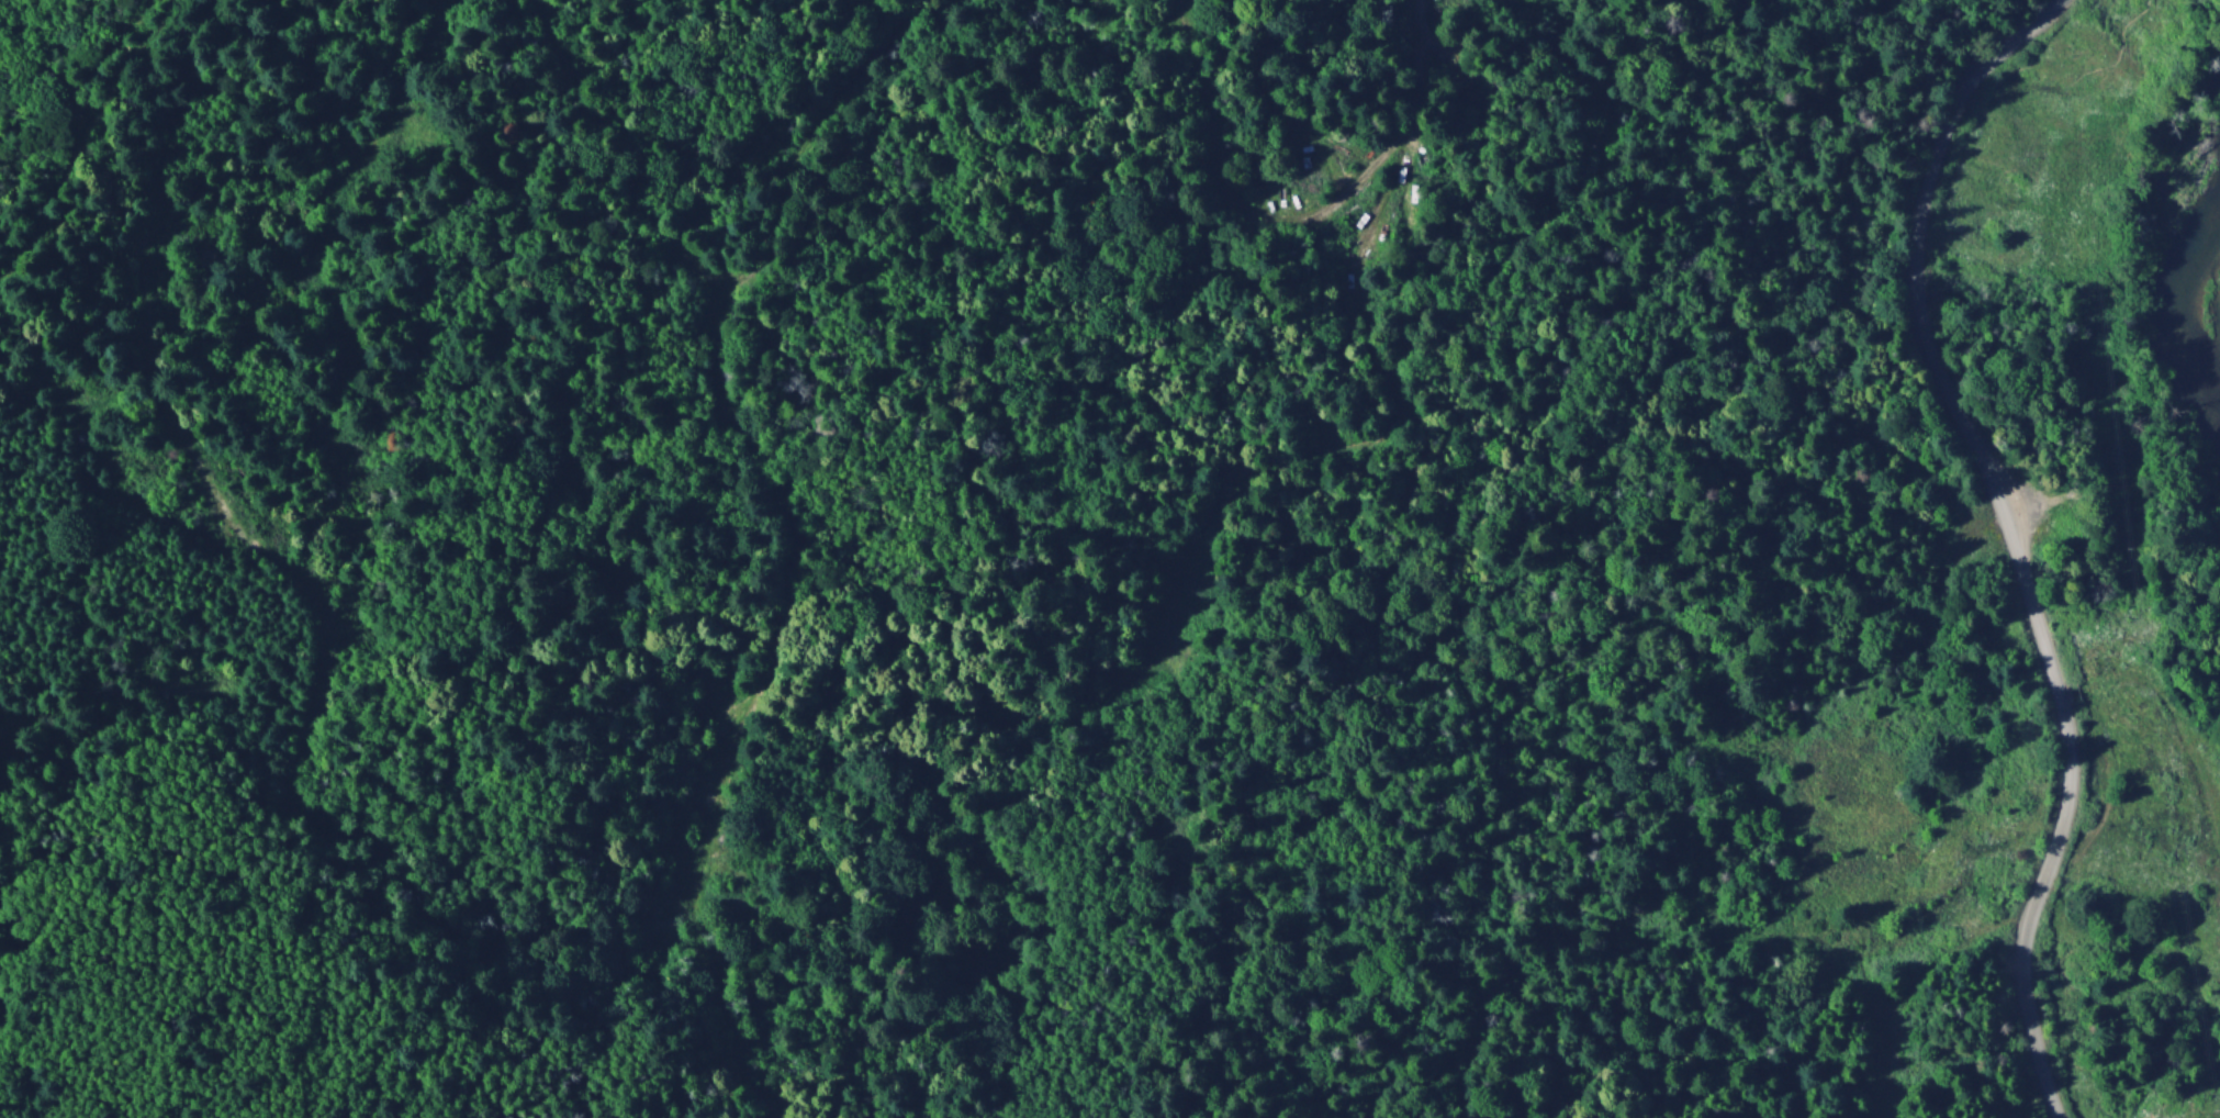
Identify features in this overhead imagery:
river: (2197, 295)
road: (2008, 534)
road: (2173, 715)

